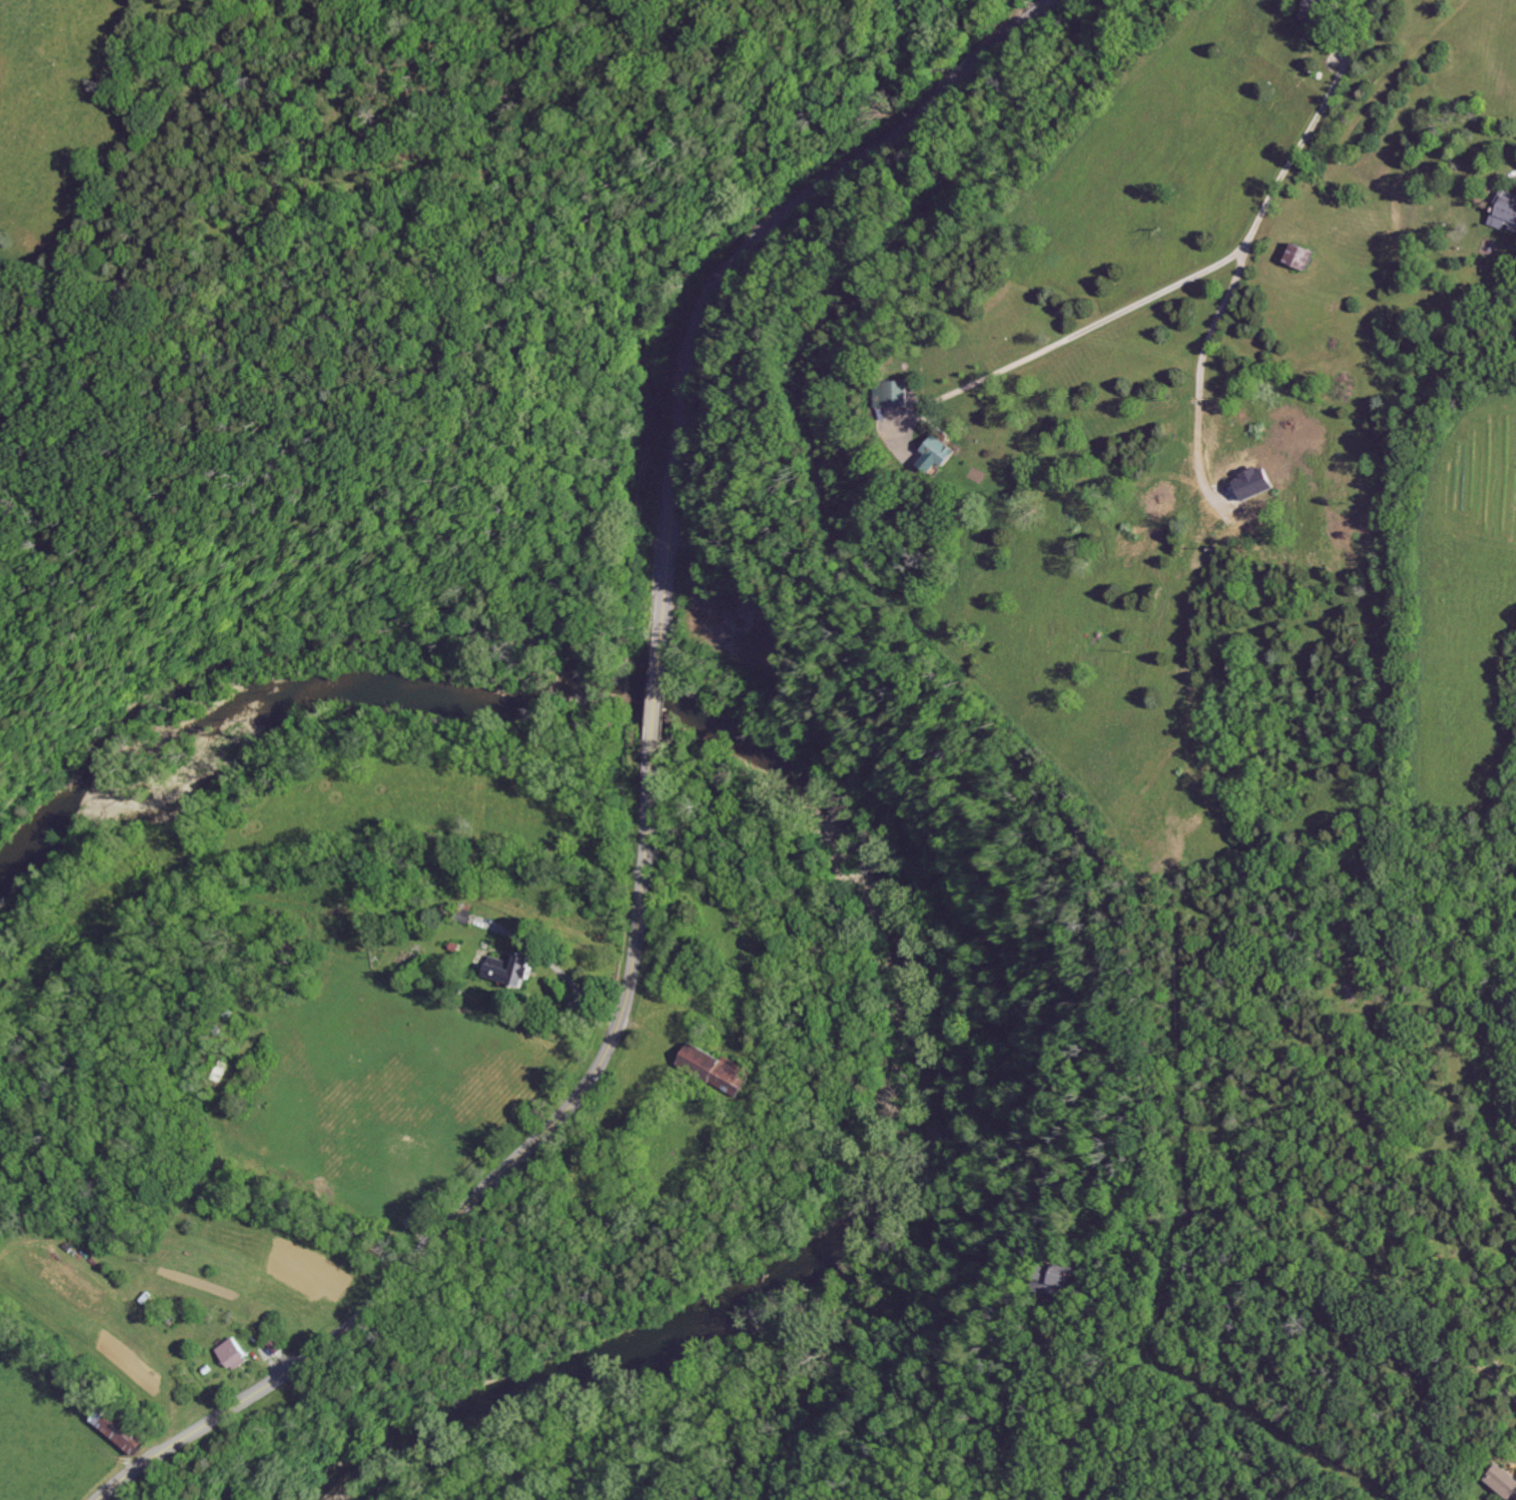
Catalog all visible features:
building: (1317, 12)
building: (1506, 211)
building: (1512, 226)
road: (748, 258)
building: (1304, 258)
road: (1207, 278)
building: (894, 395)
building: (941, 456)
road: (661, 693)
road: (970, 726)
river: (871, 858)
building: (514, 972)
road: (579, 988)
building: (720, 1071)
road: (488, 1188)
building: (1059, 1281)
road: (1346, 1287)
building: (237, 1355)
road: (1054, 1403)
building: (124, 1431)
building: (1504, 1482)

